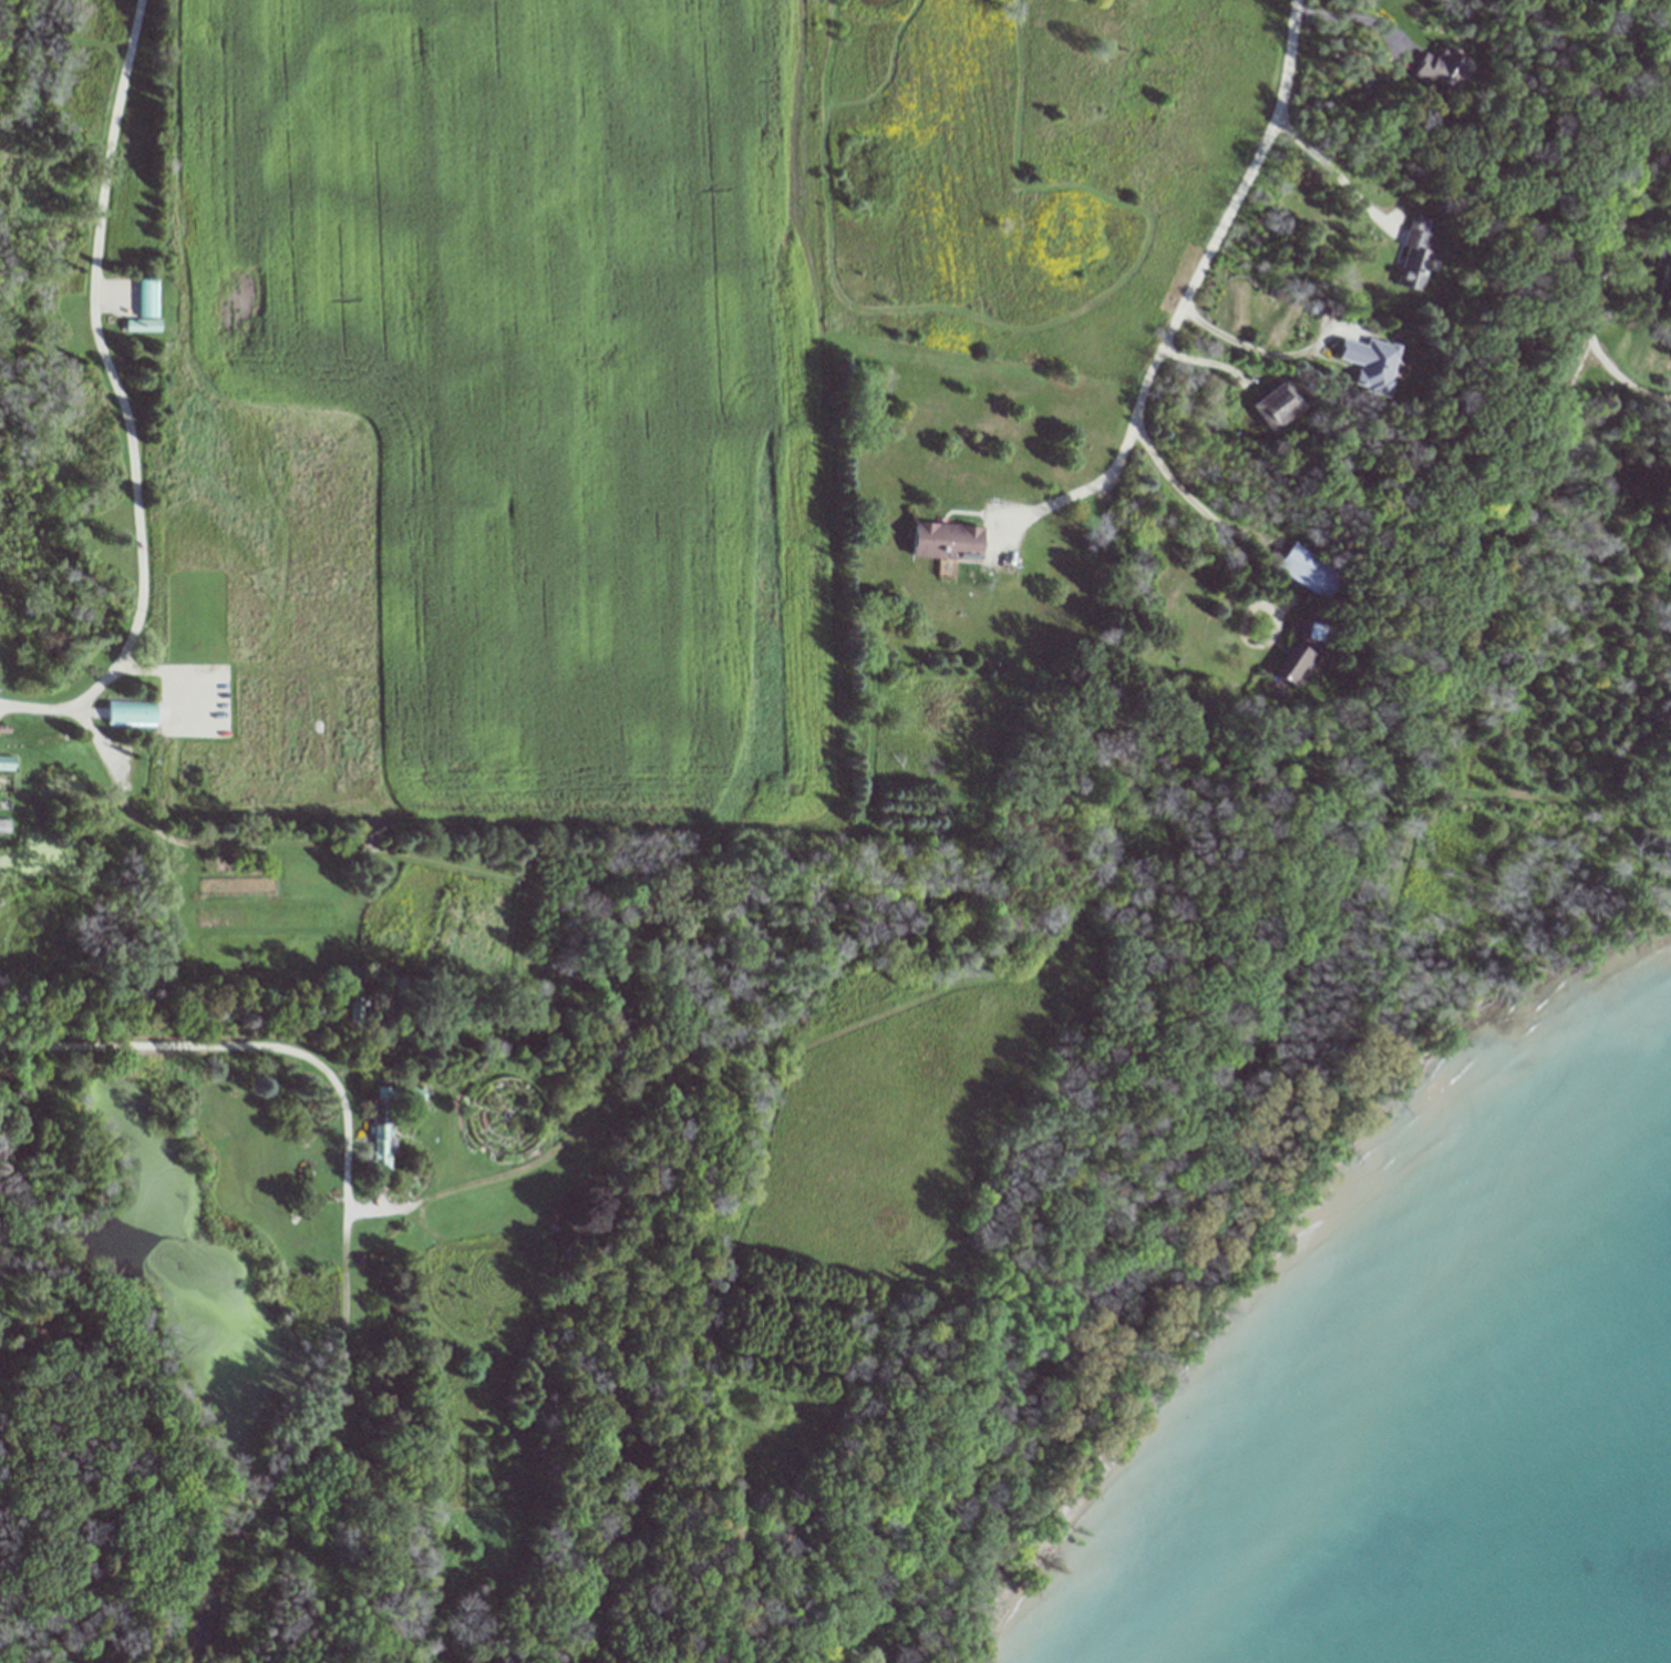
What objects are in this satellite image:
road: (1358, 17)
building: (1442, 70)
road: (1334, 168)
road: (1632, 213)
road: (1214, 246)
building: (1413, 256)
building: (1667, 278)
building: (145, 307)
road: (1250, 347)
building: (1369, 363)
road: (121, 397)
building: (1273, 406)
road: (1188, 493)
road: (1049, 505)
building: (942, 541)
building: (1306, 571)
building: (1301, 654)
building: (130, 712)
road: (258, 1044)
building: (385, 1123)

